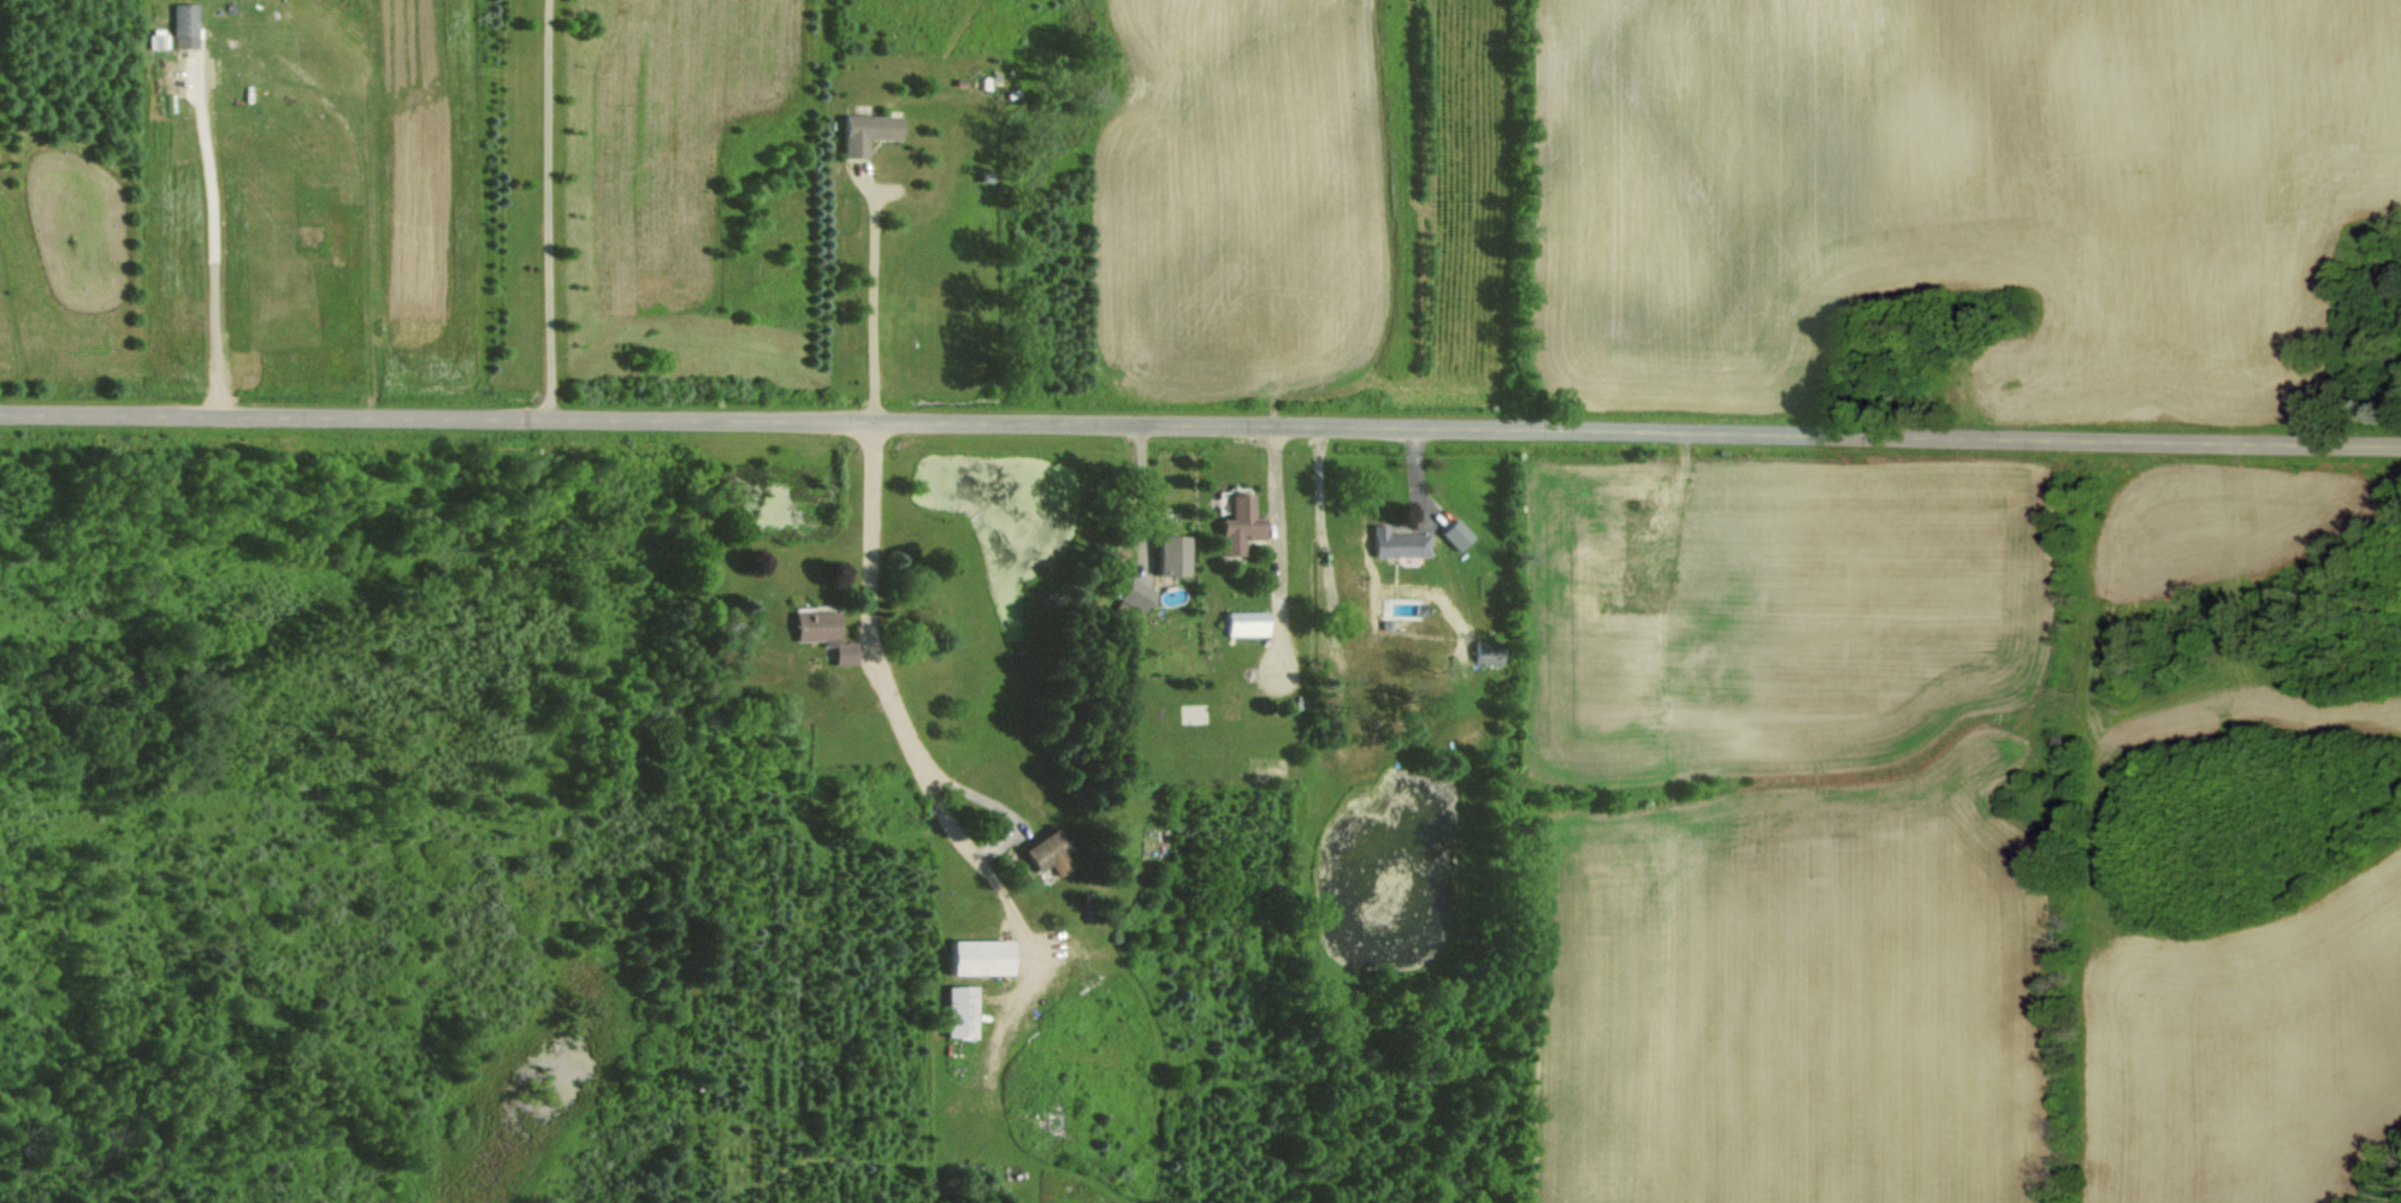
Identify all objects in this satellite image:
building: (177, 25)
building: (859, 131)
road: (544, 208)
road: (211, 248)
road: (867, 304)
road: (1200, 426)
road: (1140, 497)
building: (1234, 525)
building: (1451, 533)
building: (1394, 543)
road: (1271, 549)
building: (1166, 555)
building: (1128, 594)
building: (1238, 622)
building: (814, 633)
building: (1480, 652)
road: (900, 746)
building: (968, 956)
building: (953, 1011)

